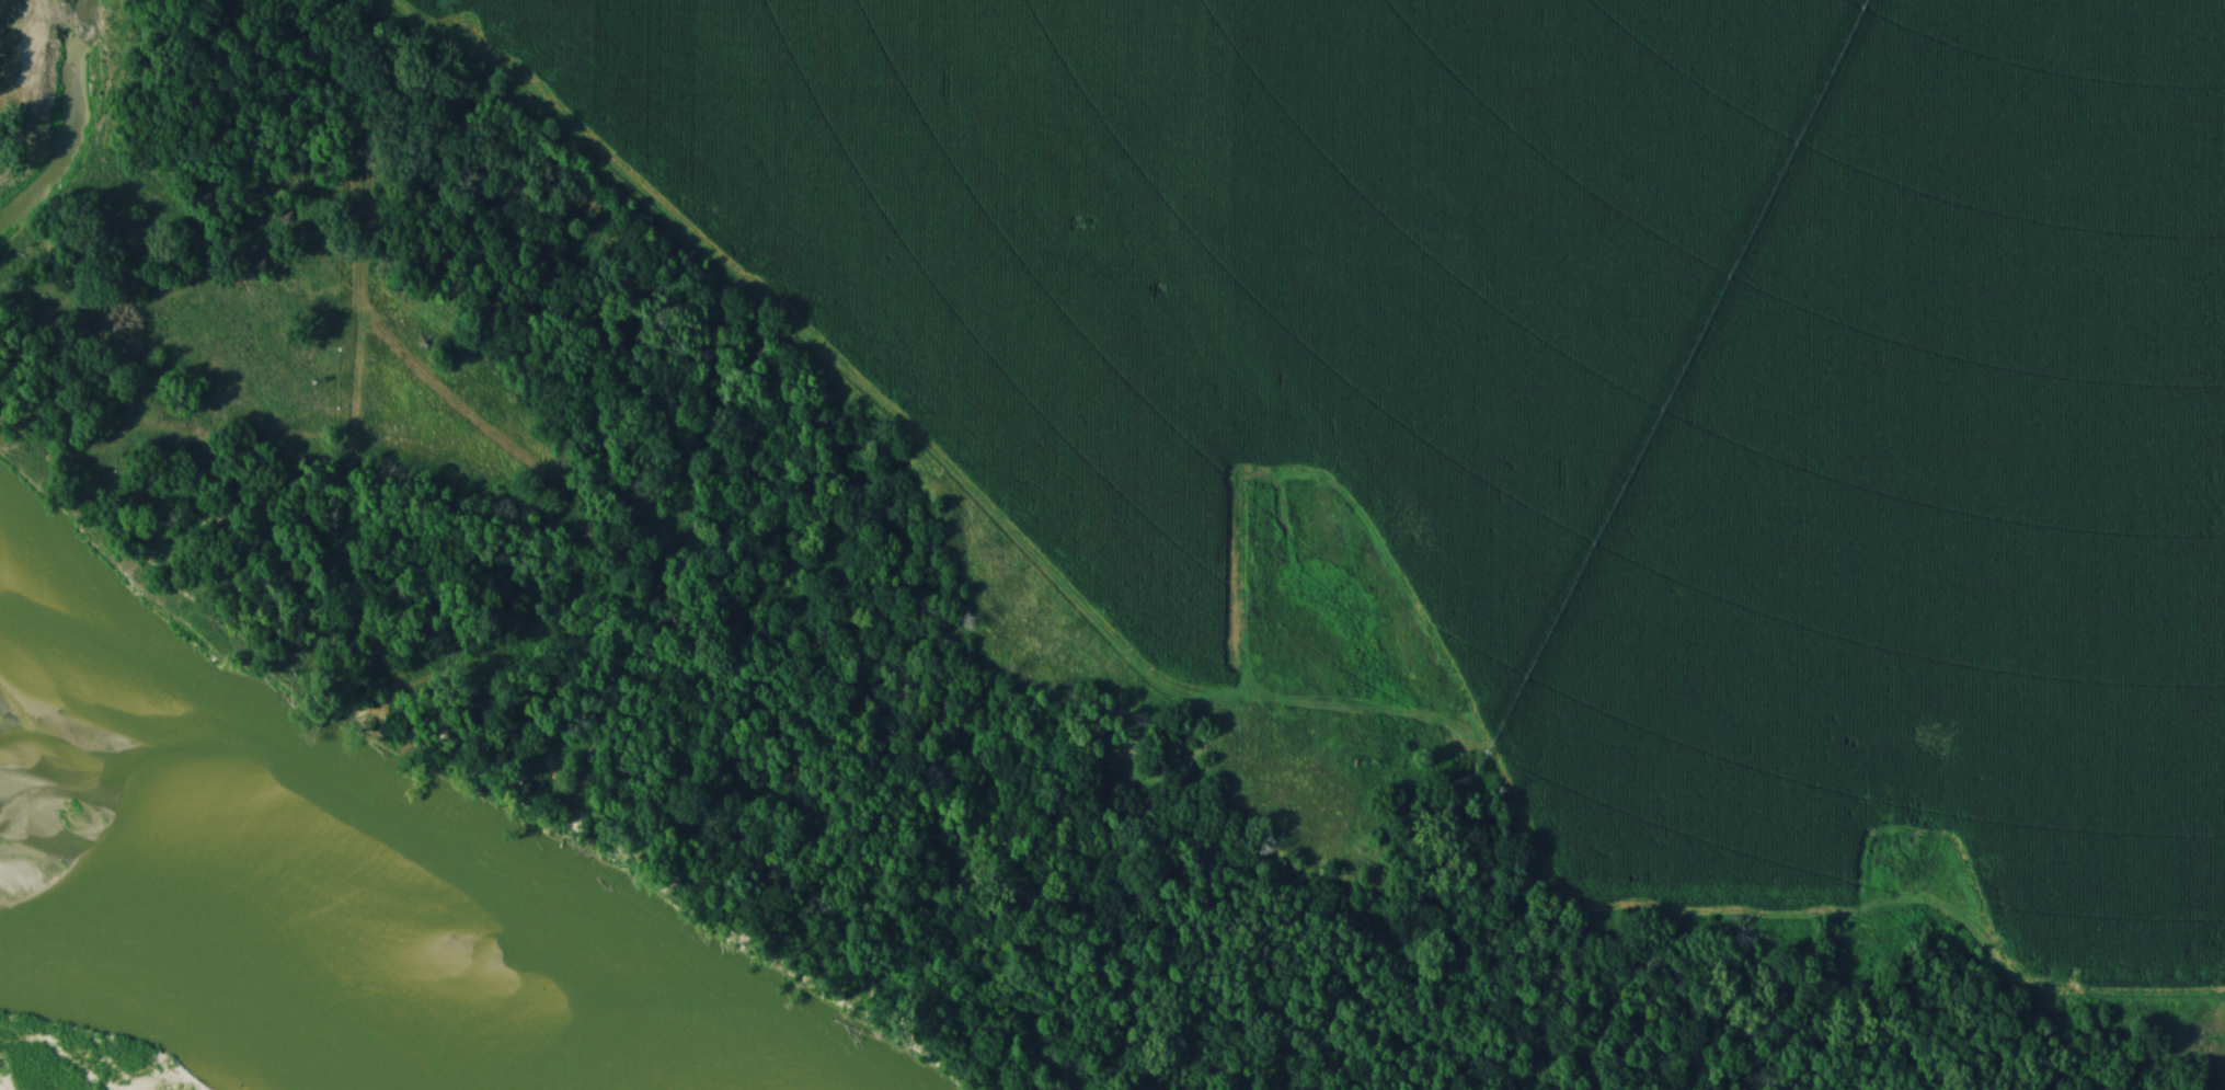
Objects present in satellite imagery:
river: (271, 987)

